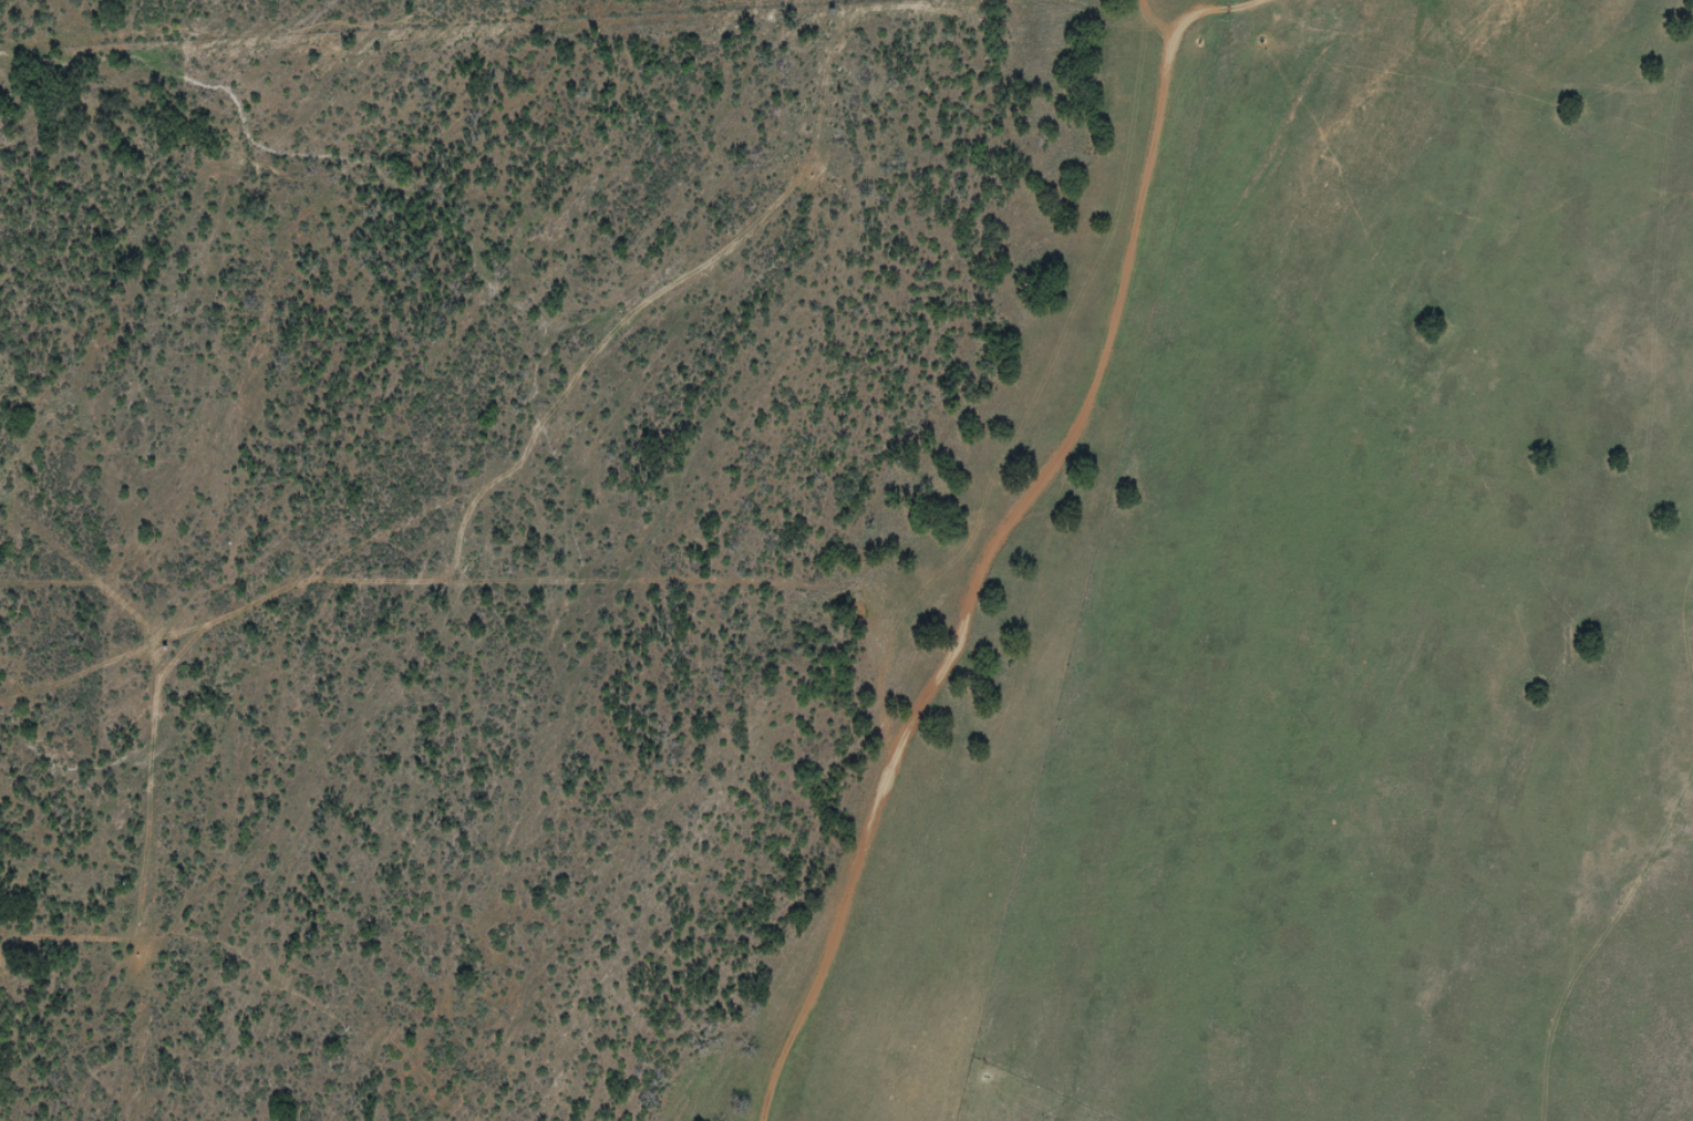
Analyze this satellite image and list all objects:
road: (1382, 21)
road: (1553, 831)

